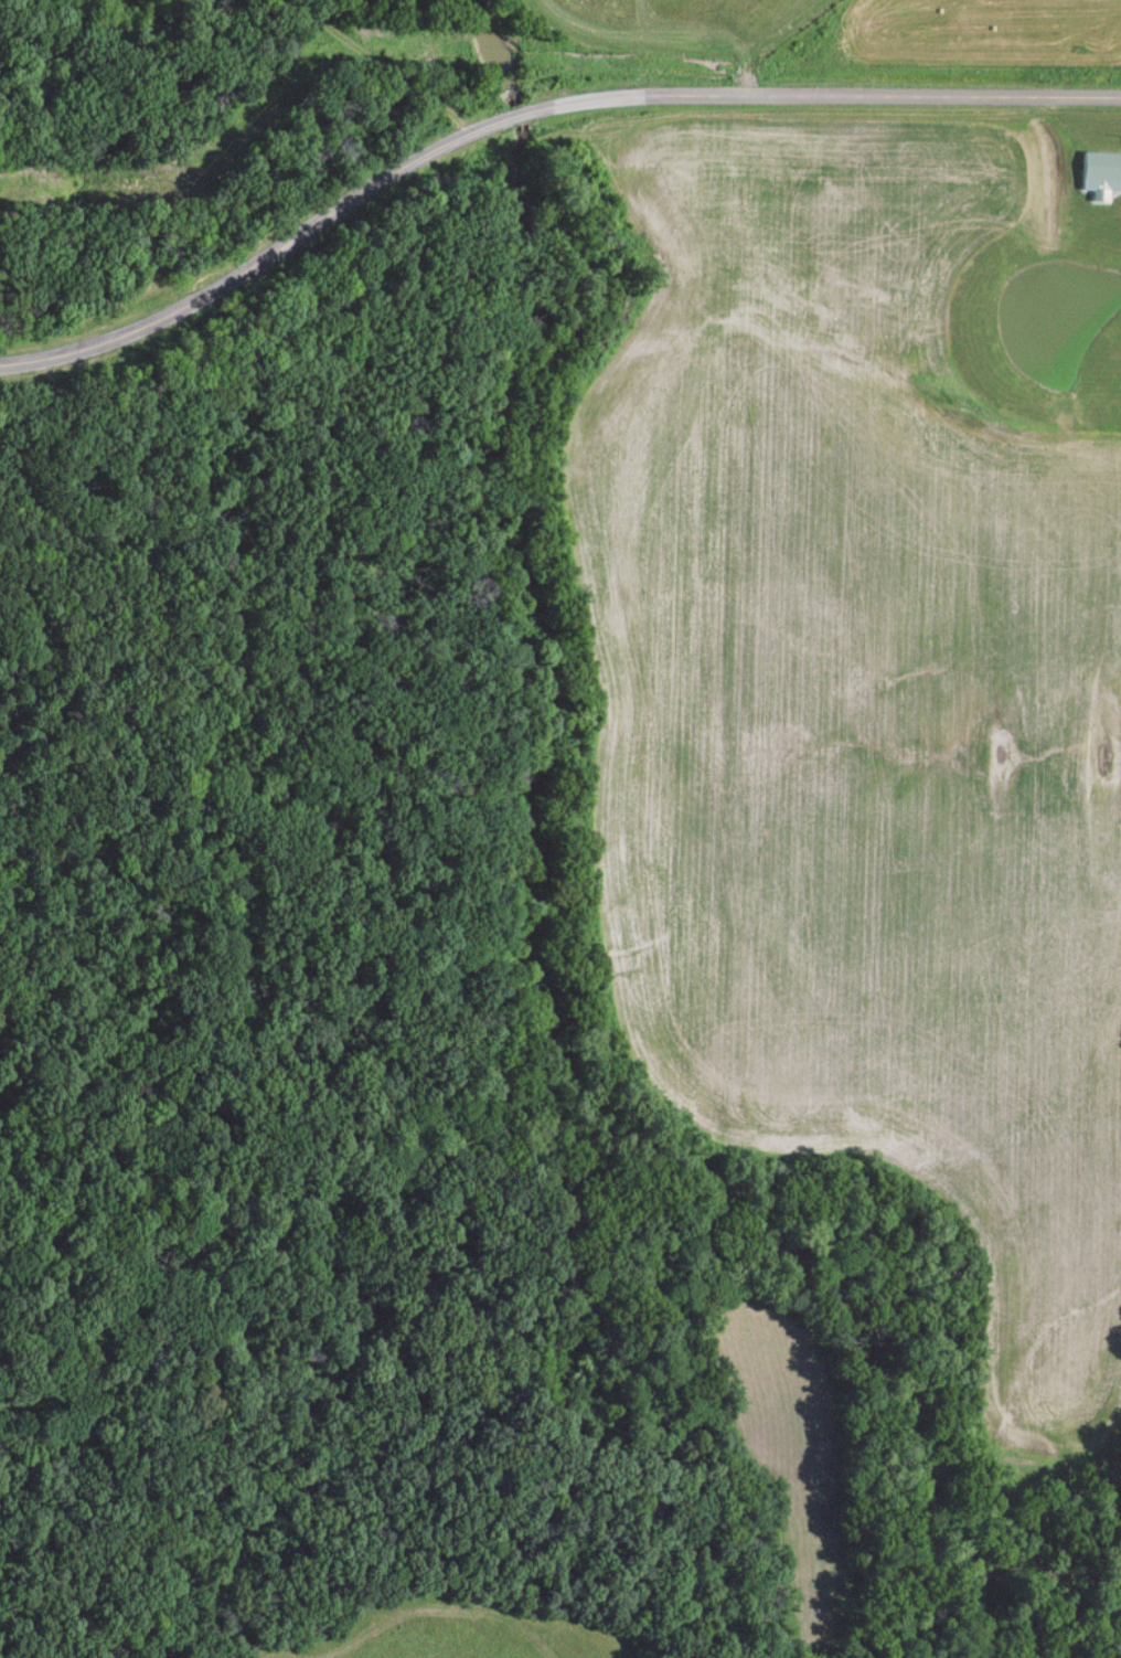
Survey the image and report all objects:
road: (529, 111)
building: (1100, 166)

